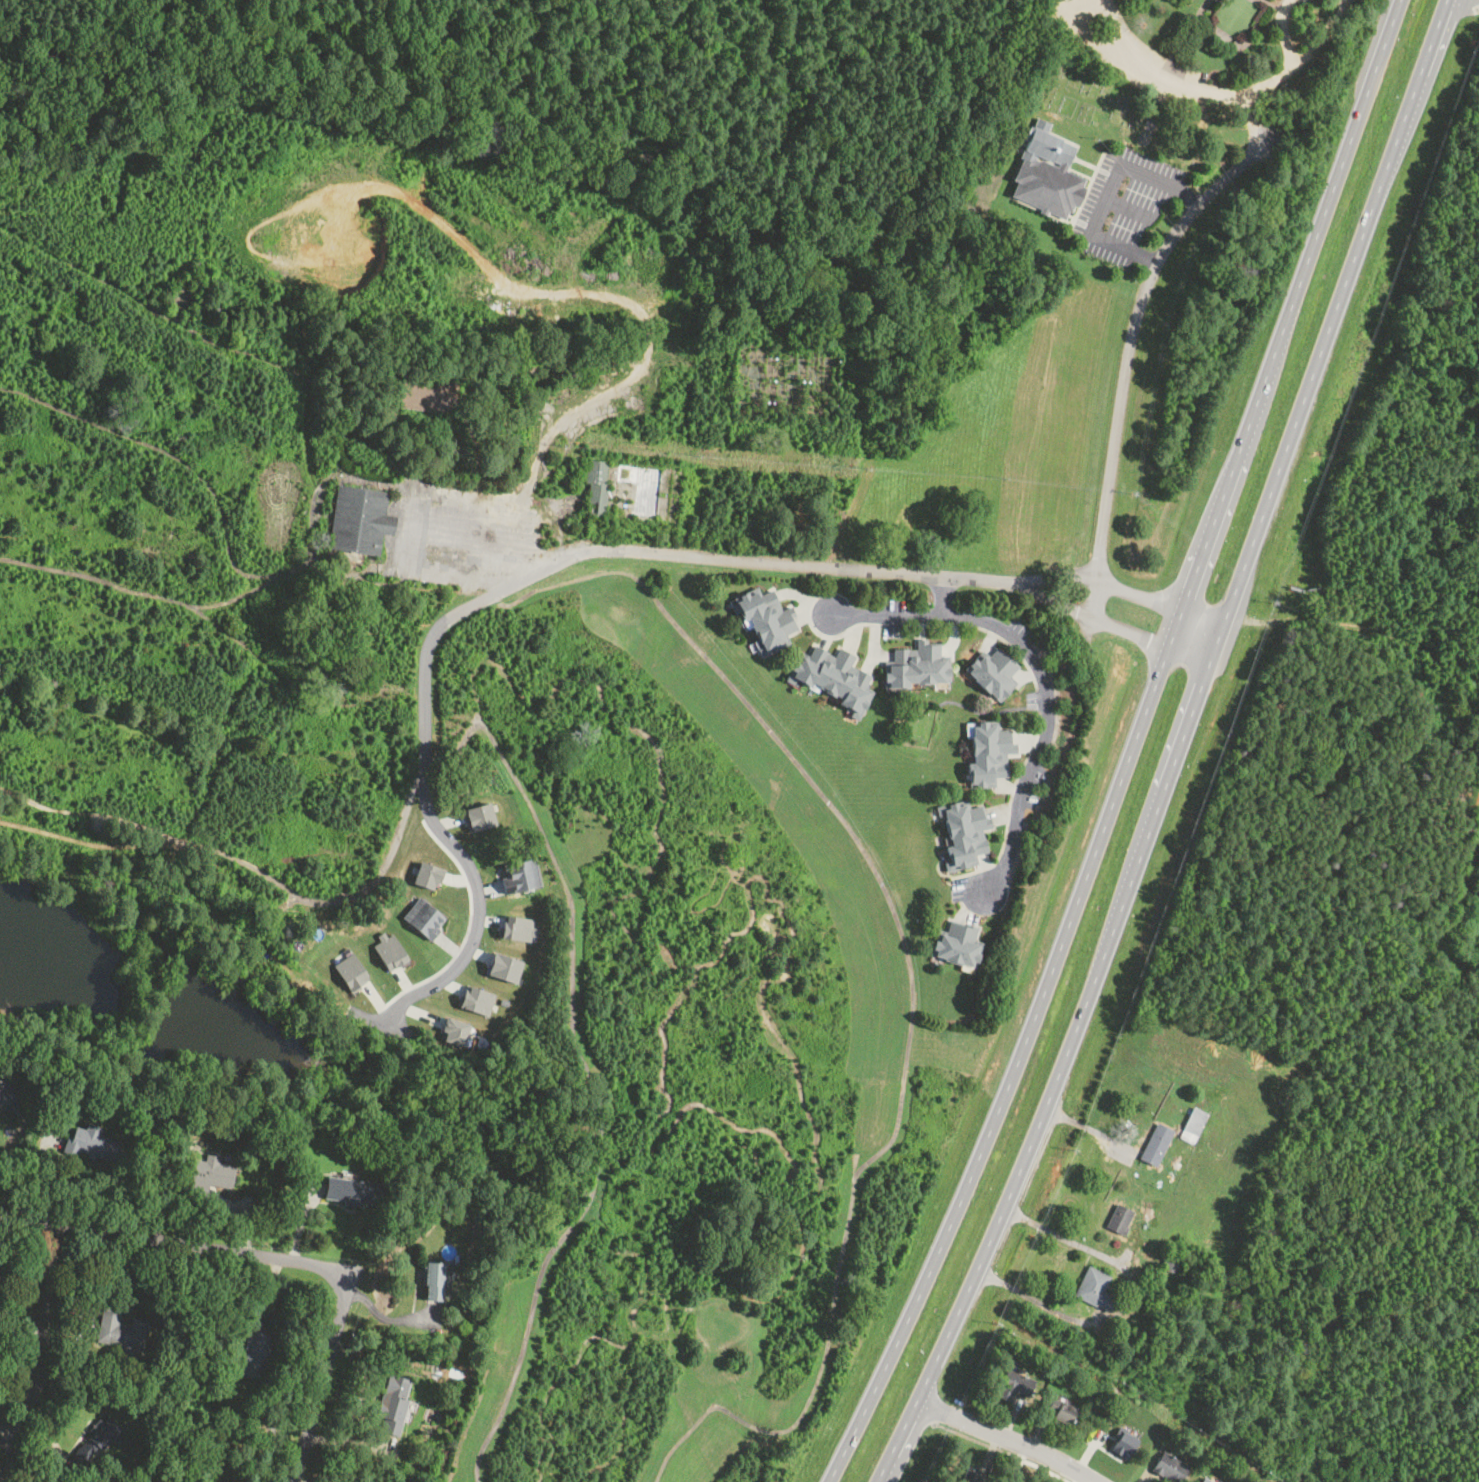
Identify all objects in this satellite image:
road: (1471, 2)
road: (1275, 6)
road: (1094, 8)
road: (1108, 14)
road: (1178, 38)
parking lot: (1131, 53)
road: (1303, 59)
road: (1152, 76)
road: (1256, 90)
park: (1117, 114)
road: (1253, 124)
building: (1000, 143)
road: (1074, 143)
road: (1085, 162)
road: (1071, 169)
building: (1046, 171)
road: (1107, 171)
road: (1087, 190)
road: (1109, 192)
park: (973, 193)
parking lot: (1125, 203)
road: (1129, 207)
road: (1044, 211)
road: (1069, 214)
road: (1285, 323)
road: (1126, 365)
park: (784, 381)
building: (594, 486)
building: (358, 520)
parking lot: (467, 533)
road: (506, 587)
road: (1128, 590)
road: (805, 598)
road: (805, 611)
road: (888, 614)
parking lot: (894, 617)
building: (765, 618)
road: (814, 618)
road: (894, 625)
road: (1118, 626)
road: (922, 627)
parking lot: (1021, 627)
road: (851, 630)
road: (826, 631)
road: (987, 631)
road: (817, 632)
road: (954, 638)
road: (990, 638)
road: (873, 641)
road: (868, 661)
building: (914, 666)
building: (991, 673)
road: (1026, 674)
building: (831, 679)
parking lot: (1033, 700)
road: (1038, 701)
road: (1033, 706)
road: (1048, 711)
road: (979, 712)
park: (916, 724)
road: (1178, 747)
building: (984, 753)
parking lot: (1041, 776)
road: (817, 787)
parking lot: (1032, 799)
road: (979, 803)
road: (1010, 808)
road: (1000, 812)
building: (479, 817)
road: (996, 818)
road: (991, 829)
building: (962, 833)
road: (383, 856)
road: (941, 859)
road: (985, 872)
road: (948, 873)
building: (427, 875)
building: (516, 876)
parking lot: (957, 889)
road: (963, 906)
road: (970, 908)
road: (969, 917)
building: (425, 918)
road: (946, 919)
building: (517, 928)
road: (979, 928)
building: (955, 945)
building: (389, 950)
building: (504, 967)
building: (351, 969)
building: (477, 999)
building: (454, 1030)
road: (1013, 1070)
building: (3, 1094)
building: (91, 1143)
building: (1156, 1144)
building: (213, 1172)
building: (354, 1191)
building: (1120, 1219)
road: (279, 1263)
building: (435, 1281)
building: (1095, 1289)
road: (48, 1307)
building: (121, 1333)
building: (253, 1355)
building: (1013, 1384)
road: (1014, 1397)
building: (392, 1405)
building: (1058, 1409)
road: (1012, 1417)
road: (1051, 1419)
road: (1039, 1430)
road: (1008, 1438)
building: (94, 1441)
building: (1119, 1445)
road: (989, 1451)
road: (1002, 1451)
road: (1018, 1463)
road: (978, 1466)
building: (1166, 1467)
building: (974, 1475)
building: (1206, 1480)
building: (223, 1481)
road: (1014, 1481)

